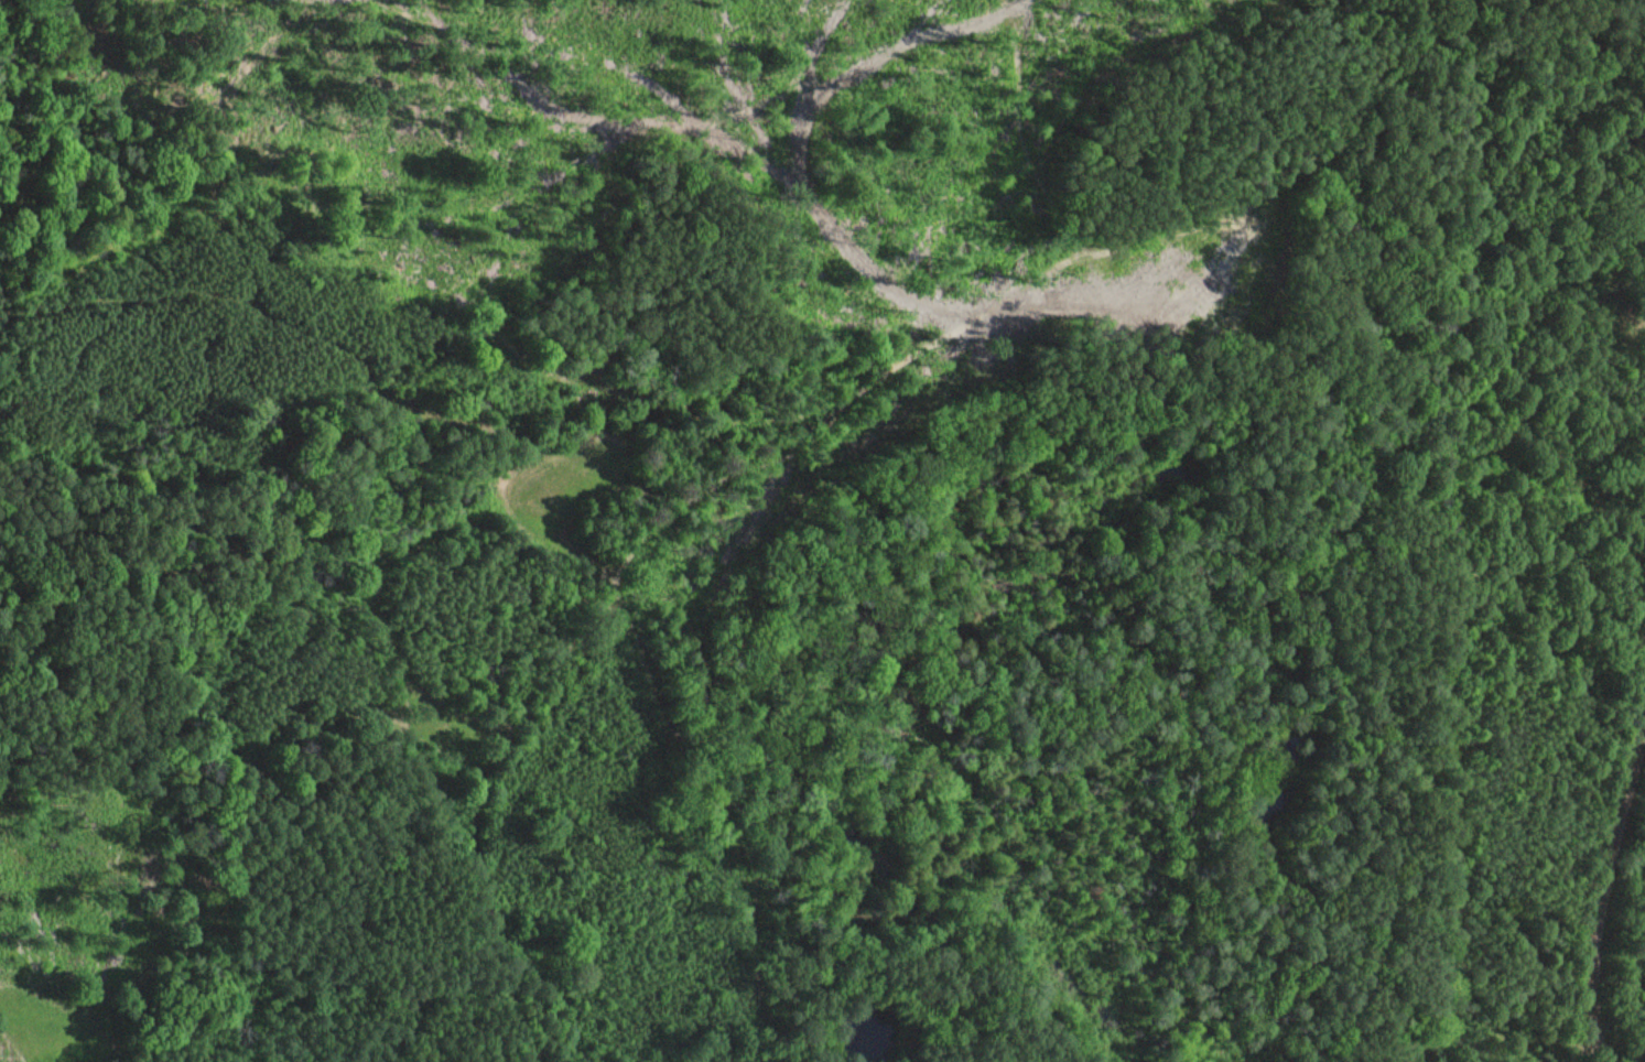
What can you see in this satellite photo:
road: (1610, 908)

